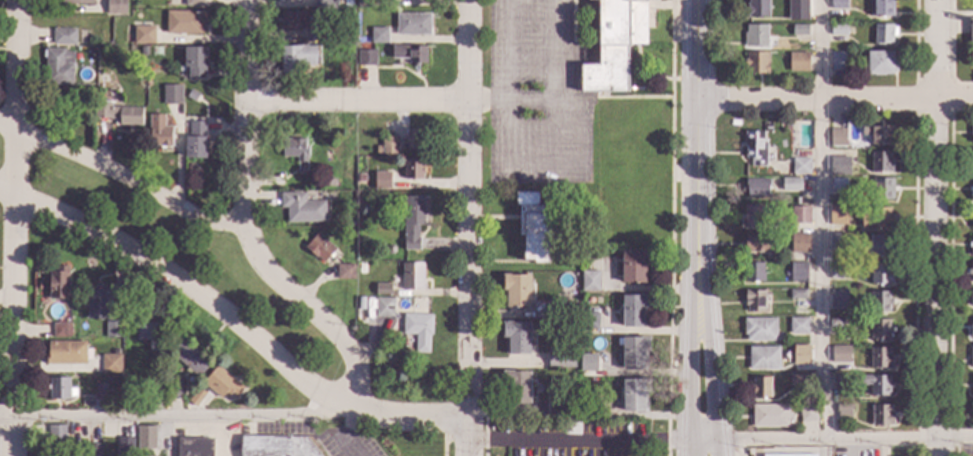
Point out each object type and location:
building: (292, 0)
building: (333, 0)
building: (74, 2)
building: (194, 3)
building: (322, 4)
building: (364, 4)
building: (799, 4)
building: (333, 5)
building: (838, 5)
building: (116, 6)
building: (881, 8)
building: (757, 9)
building: (292, 21)
building: (185, 22)
building: (412, 24)
building: (799, 30)
building: (838, 30)
building: (884, 34)
building: (317, 35)
building: (144, 36)
building: (379, 36)
building: (755, 36)
building: (64, 37)
building: (971, 37)
building: (615, 45)
building: (119, 46)
building: (143, 50)
building: (410, 55)
building: (366, 57)
building: (296, 58)
building: (196, 61)
building: (798, 62)
building: (838, 62)
building: (756, 63)
building: (880, 64)
building: (58, 67)
building: (103, 78)
building: (172, 93)
building: (192, 96)
road: (834, 100)
road: (359, 101)
road: (489, 102)
building: (189, 106)
road: (248, 112)
building: (117, 114)
building: (787, 127)
building: (972, 133)
building: (878, 135)
building: (161, 136)
building: (837, 138)
building: (413, 139)
building: (196, 141)
building: (387, 145)
building: (755, 148)
building: (293, 149)
road: (697, 156)
building: (881, 162)
building: (971, 163)
road: (528, 166)
building: (800, 166)
building: (840, 166)
building: (412, 169)
road: (125, 178)
building: (361, 178)
building: (381, 180)
building: (326, 182)
building: (791, 185)
building: (838, 185)
building: (756, 188)
building: (883, 189)
building: (972, 193)
building: (796, 201)
building: (302, 208)
building: (800, 215)
building: (838, 215)
building: (754, 217)
road: (818, 218)
building: (877, 219)
building: (412, 222)
building: (972, 222)
building: (351, 223)
building: (534, 227)
road: (16, 228)
road: (471, 228)
road: (936, 228)
building: (838, 243)
building: (757, 244)
building: (799, 244)
building: (878, 246)
building: (319, 248)
building: (972, 249)
building: (389, 250)
building: (634, 265)
building: (839, 271)
building: (345, 272)
building: (754, 272)
building: (798, 272)
building: (971, 272)
building: (881, 274)
building: (412, 276)
building: (590, 281)
building: (58, 283)
building: (382, 289)
building: (517, 291)
building: (798, 294)
building: (972, 298)
building: (838, 299)
building: (754, 301)
building: (98, 302)
building: (372, 302)
building: (880, 302)
building: (384, 307)
building: (580, 308)
building: (565, 309)
building: (634, 310)
road: (315, 313)
road: (233, 320)
building: (589, 322)
building: (839, 323)
building: (799, 326)
building: (760, 329)
building: (113, 330)
building: (417, 330)
building: (880, 330)
building: (61, 331)
building: (972, 331)
building: (148, 333)
building: (517, 337)
building: (160, 340)
building: (801, 351)
building: (840, 351)
building: (634, 352)
building: (66, 353)
building: (972, 357)
building: (191, 358)
building: (561, 358)
building: (763, 358)
building: (880, 358)
building: (588, 363)
building: (111, 364)
road: (507, 366)
building: (158, 368)
road: (647, 375)
road: (688, 375)
road: (709, 375)
building: (800, 380)
building: (125, 382)
building: (841, 382)
building: (221, 384)
building: (972, 384)
building: (877, 385)
building: (516, 387)
building: (174, 388)
building: (761, 388)
building: (61, 389)
building: (100, 391)
building: (195, 395)
building: (634, 395)
building: (127, 401)
building: (556, 407)
building: (596, 410)
building: (843, 412)
building: (807, 413)
building: (771, 416)
building: (882, 416)
road: (168, 419)
building: (569, 426)
building: (56, 433)
building: (146, 437)
road: (830, 437)
road: (218, 438)
road: (579, 444)
building: (125, 446)
building: (277, 446)
building: (194, 447)
road: (687, 447)
road: (715, 447)
building: (94, 450)
power substation: (791, 451)
building: (793, 455)

